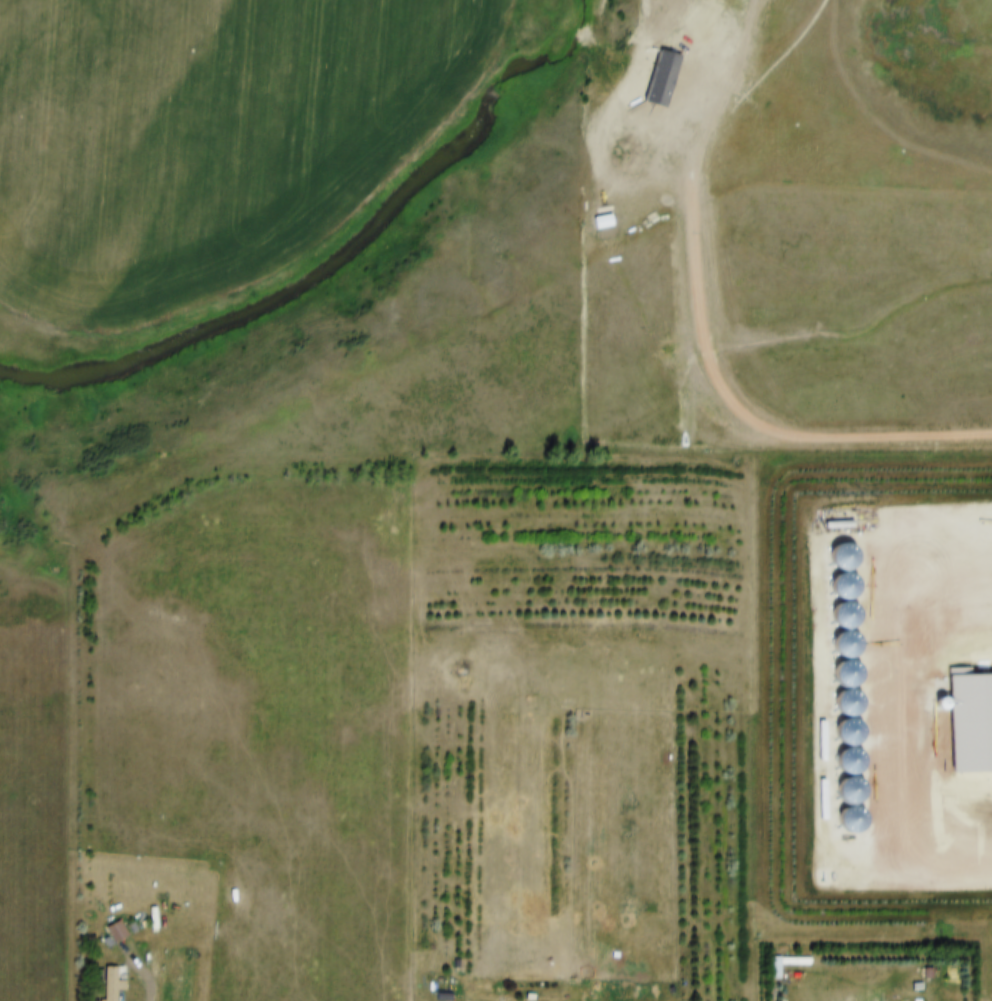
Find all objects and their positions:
building: (120, 923)
building: (771, 959)
building: (115, 977)
road: (154, 981)

